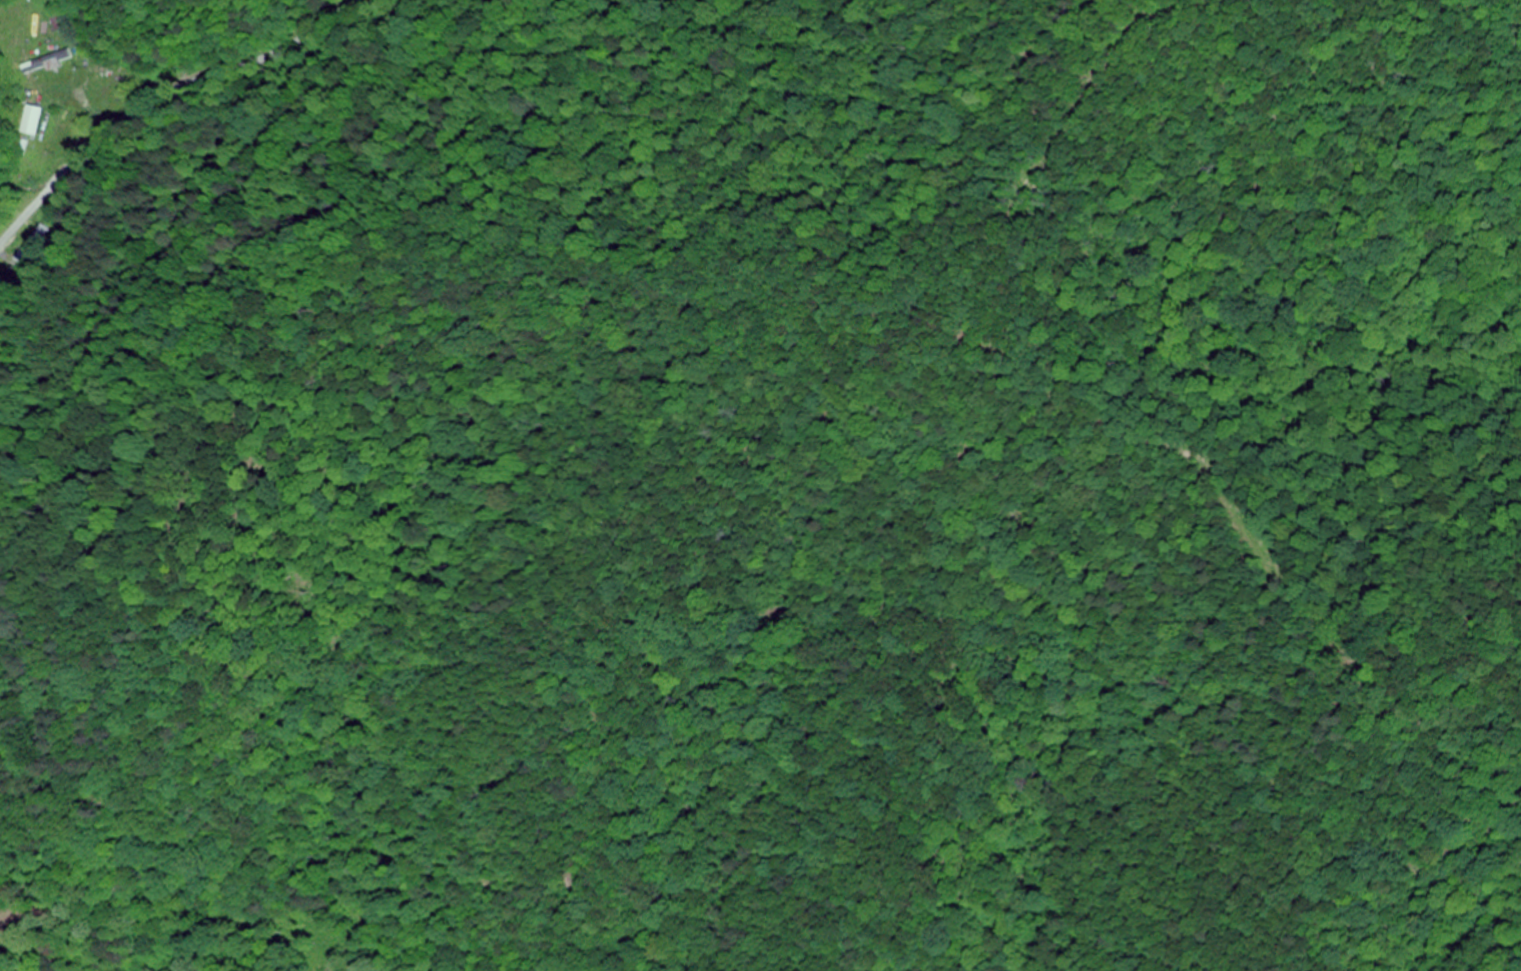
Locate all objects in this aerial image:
road: (162, 96)
building: (33, 120)
building: (29, 244)

